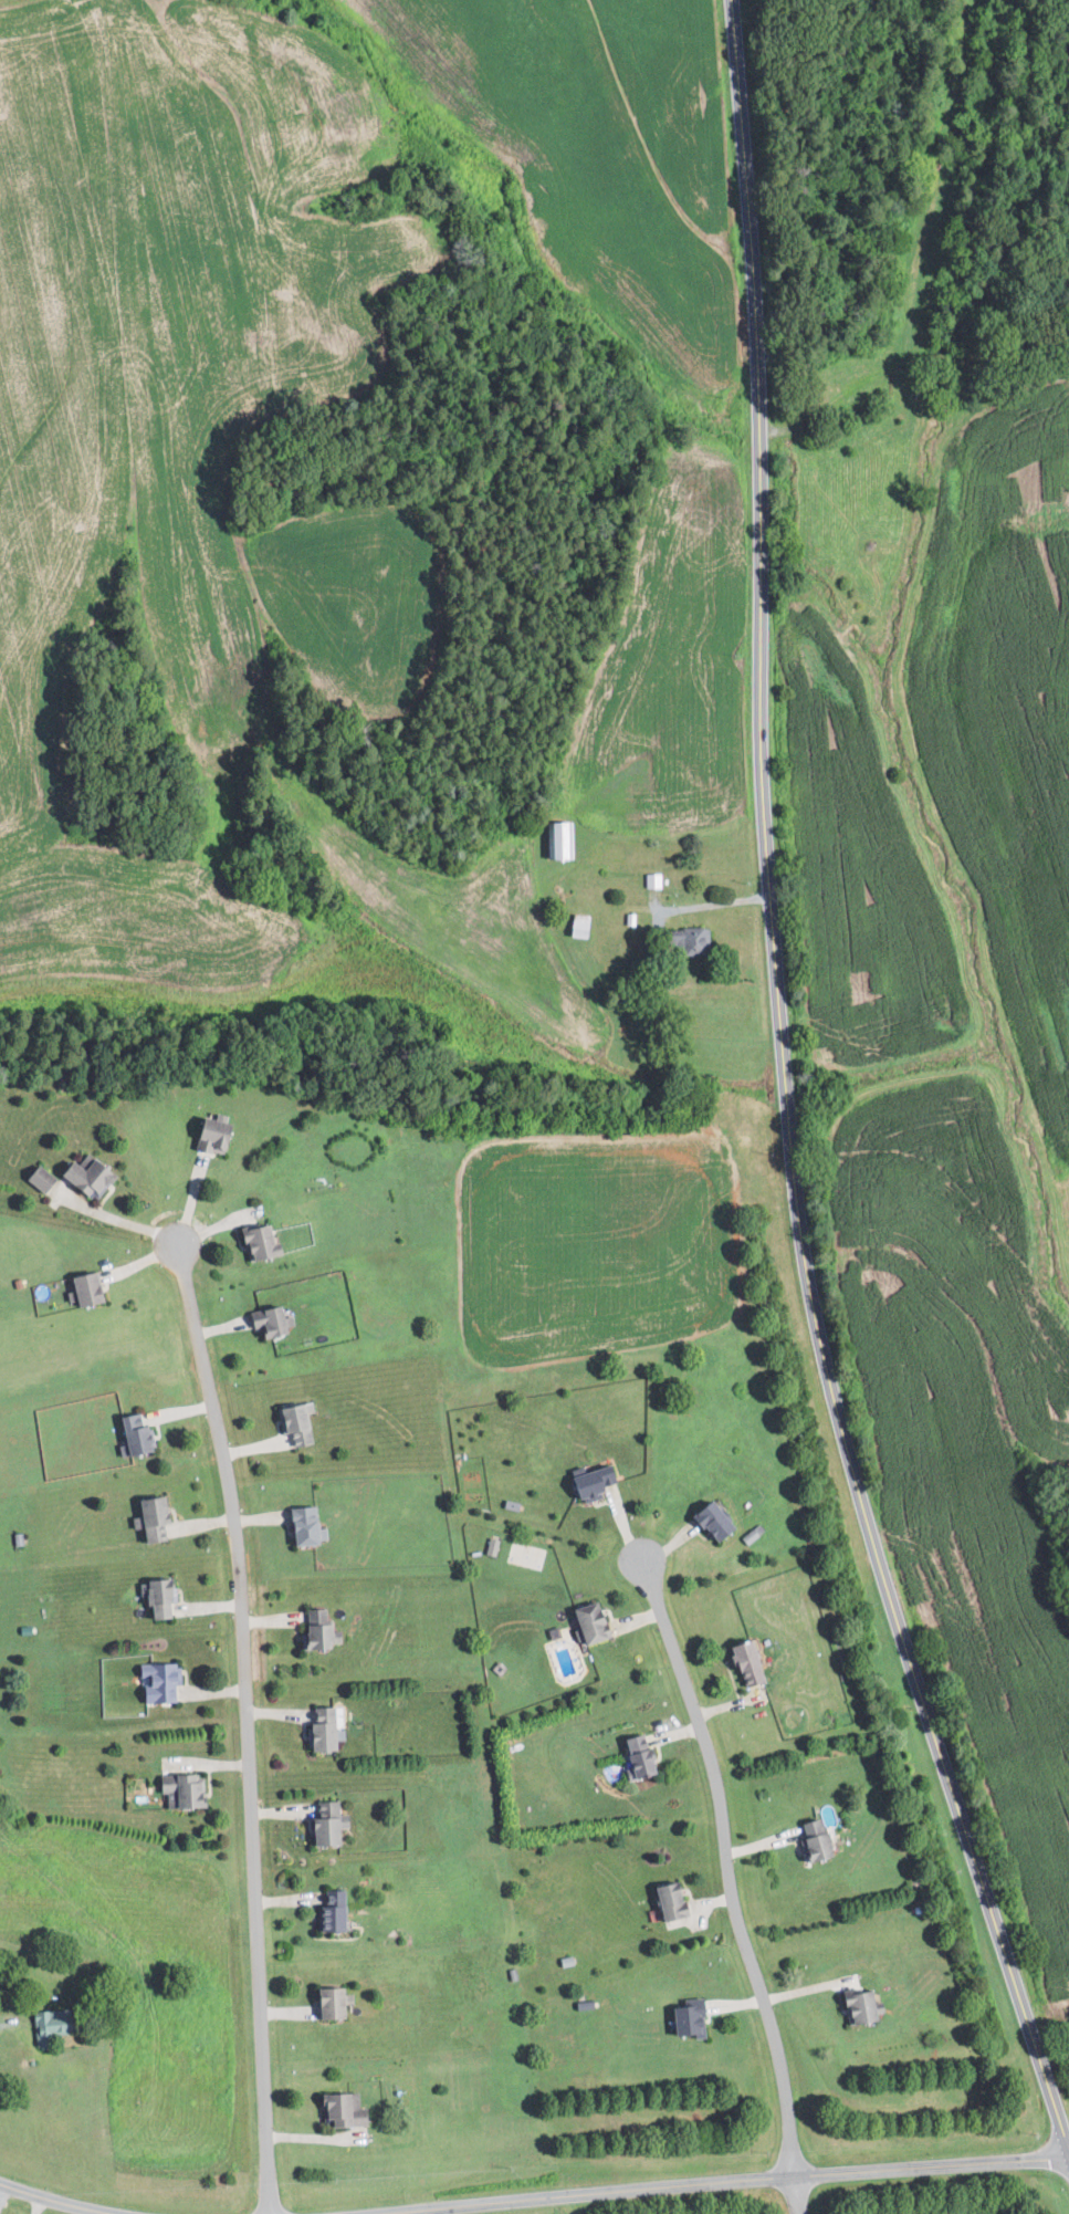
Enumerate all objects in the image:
building: (554, 838)
building: (651, 879)
road: (705, 906)
building: (684, 939)
road: (778, 1097)
building: (220, 1134)
building: (96, 1174)
building: (45, 1178)
road: (128, 1223)
building: (263, 1242)
building: (98, 1288)
building: (274, 1322)
building: (305, 1424)
building: (140, 1435)
building: (587, 1481)
building: (163, 1517)
building: (312, 1524)
building: (490, 1546)
building: (165, 1597)
building: (586, 1622)
building: (319, 1631)
building: (742, 1662)
building: (164, 1681)
road: (250, 1727)
building: (635, 1756)
building: (188, 1789)
building: (334, 1824)
building: (810, 1840)
road: (722, 1865)
building: (667, 1901)
building: (343, 1913)
building: (340, 2003)
building: (856, 2008)
building: (684, 2018)
road: (4, 2019)
building: (57, 2022)
building: (339, 2108)
road: (829, 2175)
road: (790, 2196)
road: (6, 2197)
road: (55, 2201)
road: (483, 2203)
road: (436, 2211)

